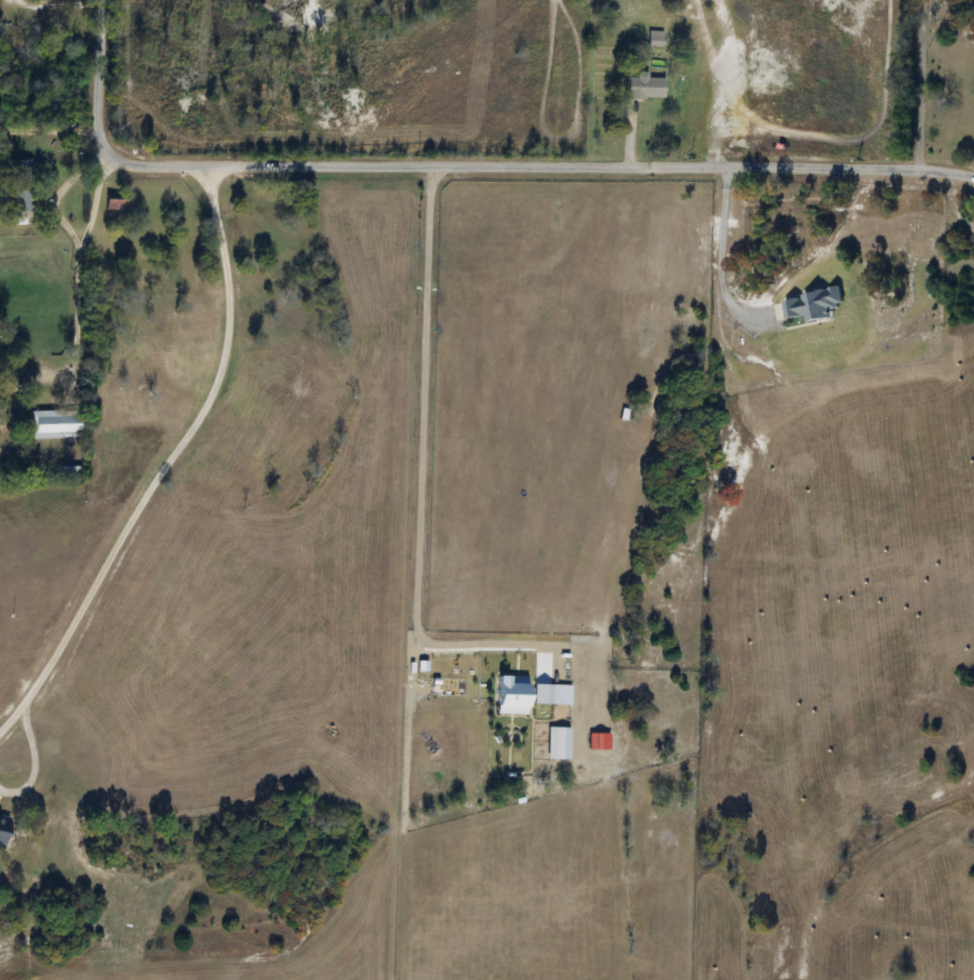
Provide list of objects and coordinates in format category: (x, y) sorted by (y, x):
building: (654, 39)
road: (922, 85)
building: (644, 88)
road: (49, 128)
road: (460, 168)
building: (18, 169)
building: (17, 205)
building: (115, 205)
road: (721, 257)
road: (72, 286)
building: (45, 425)
road: (164, 462)
road: (413, 514)

